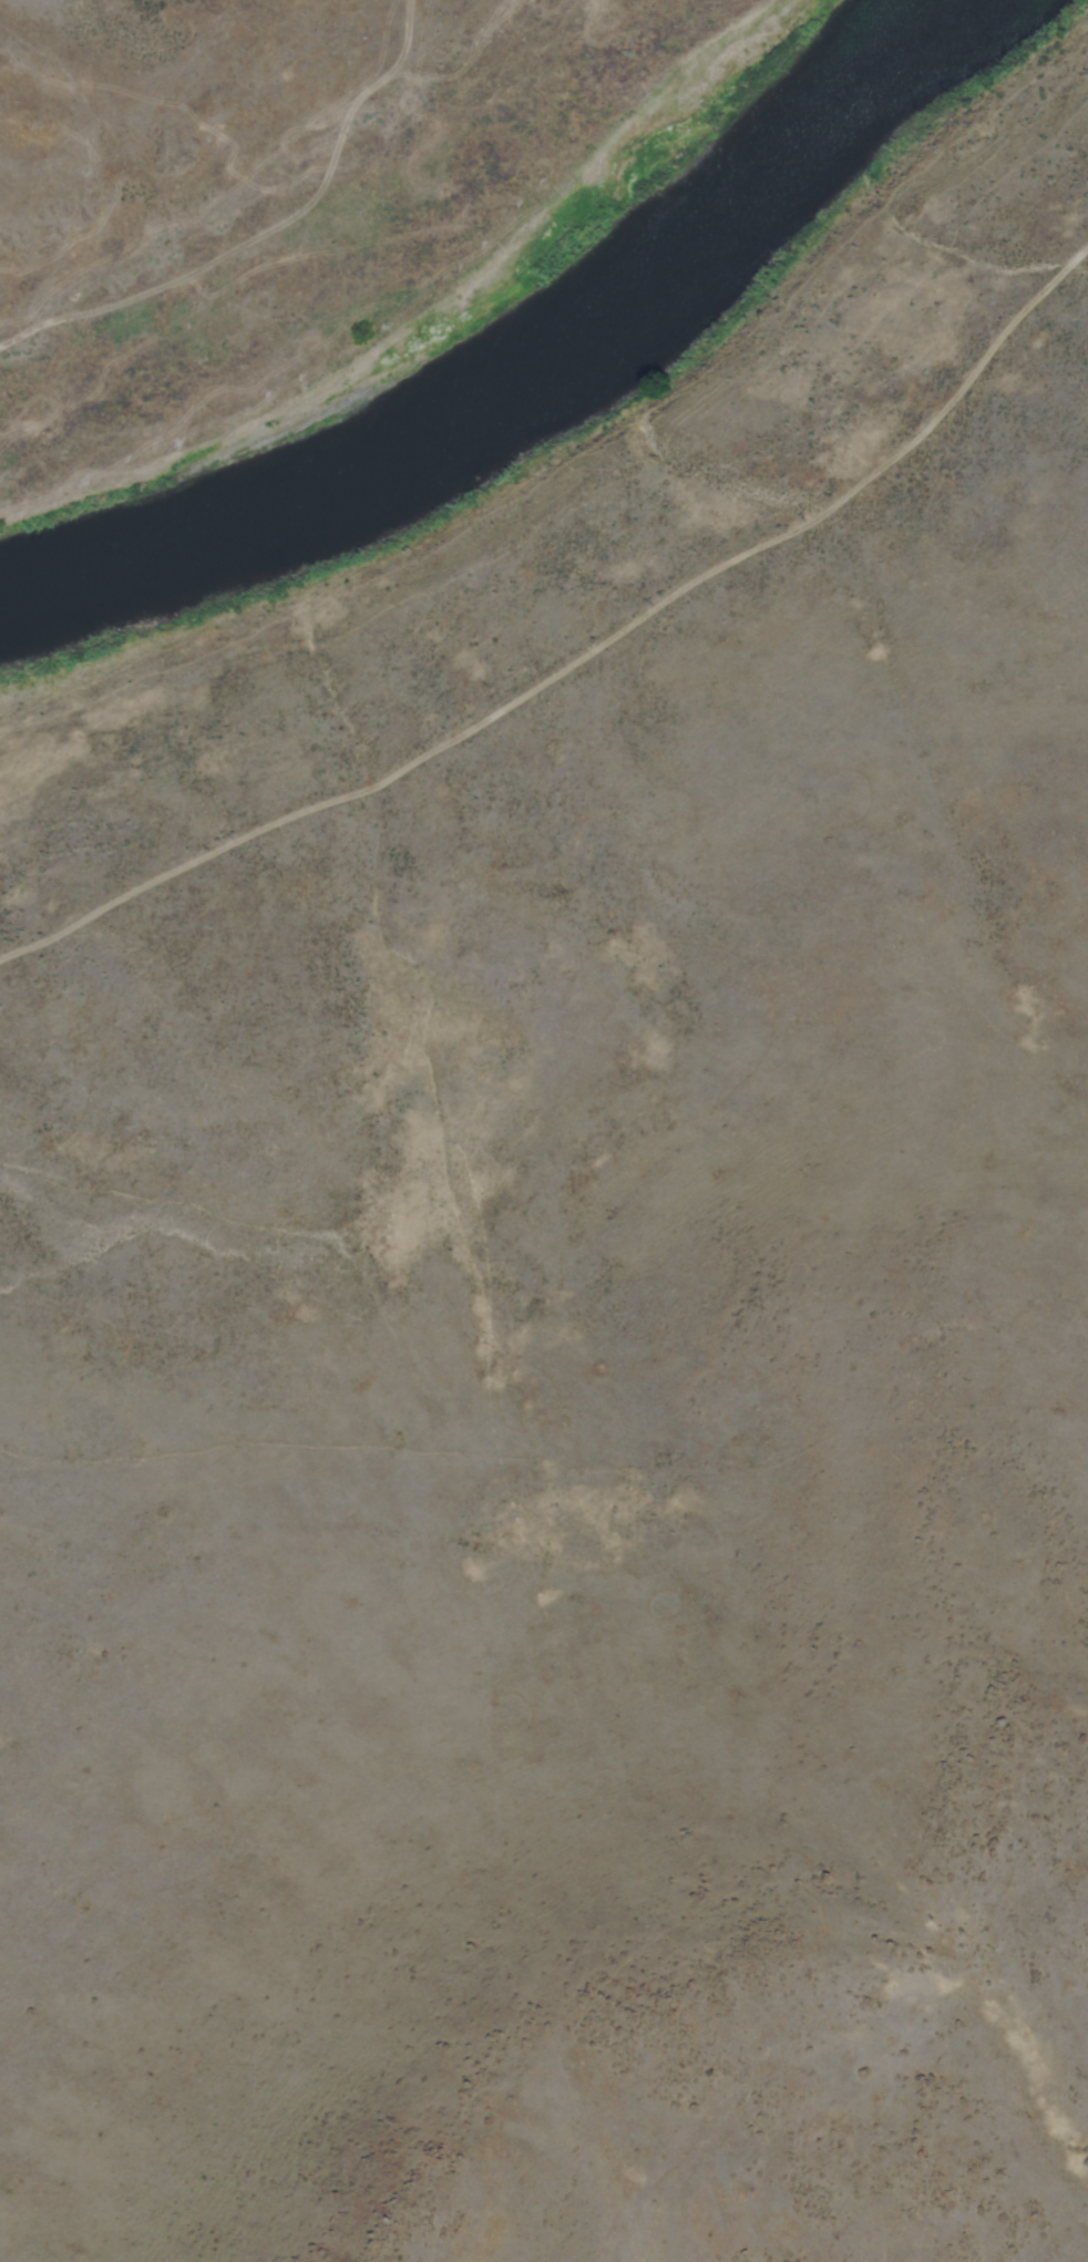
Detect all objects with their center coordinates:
river: (530, 371)
road: (578, 652)

